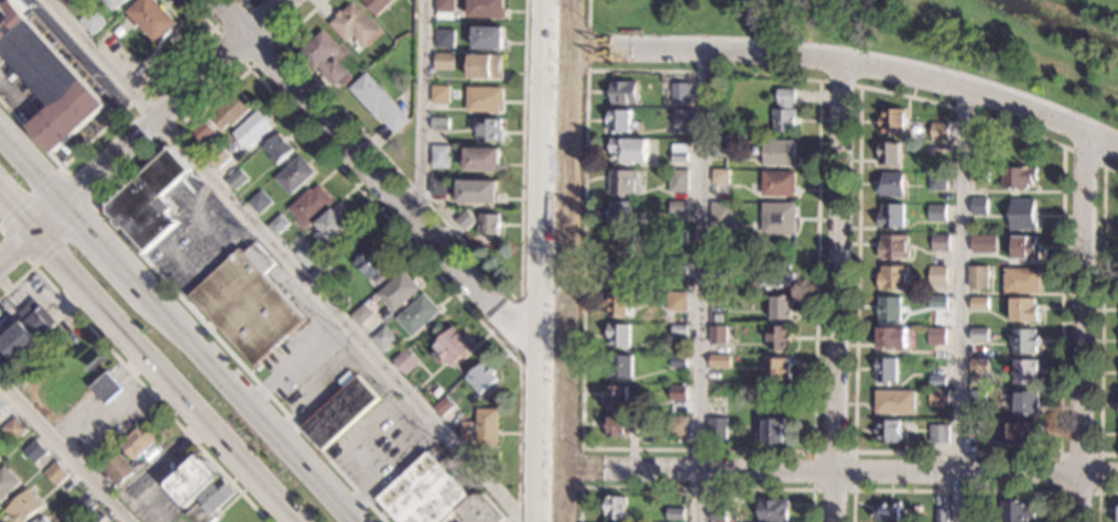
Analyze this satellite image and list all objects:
road: (241, 0)
building: (67, 2)
building: (115, 3)
building: (377, 7)
building: (443, 9)
building: (487, 10)
road: (588, 13)
building: (151, 20)
building: (91, 22)
river: (1070, 22)
building: (355, 28)
building: (118, 32)
park: (926, 34)
building: (444, 39)
road: (276, 41)
building: (489, 41)
road: (587, 48)
building: (397, 52)
road: (836, 58)
building: (323, 61)
building: (443, 62)
building: (486, 70)
building: (47, 79)
road: (840, 83)
building: (622, 90)
road: (220, 91)
building: (679, 94)
building: (439, 95)
building: (485, 102)
building: (379, 106)
road: (420, 109)
building: (785, 110)
building: (229, 111)
road: (117, 115)
building: (682, 115)
road: (159, 116)
building: (619, 119)
building: (894, 121)
building: (438, 124)
road: (541, 128)
building: (941, 129)
building: (251, 131)
building: (490, 133)
building: (200, 135)
building: (941, 145)
building: (721, 146)
building: (629, 148)
building: (274, 151)
building: (679, 152)
building: (779, 152)
building: (890, 152)
building: (439, 156)
road: (1084, 156)
building: (217, 157)
building: (482, 162)
road: (31, 167)
road: (368, 174)
building: (720, 174)
building: (979, 175)
building: (1018, 175)
building: (292, 177)
building: (235, 178)
building: (622, 180)
building: (679, 180)
building: (936, 181)
building: (778, 182)
building: (892, 183)
road: (78, 186)
building: (437, 186)
building: (476, 192)
road: (30, 194)
building: (257, 203)
building: (146, 204)
building: (979, 205)
building: (679, 206)
building: (308, 207)
building: (621, 210)
building: (936, 210)
building: (724, 213)
building: (1022, 213)
road: (14, 215)
building: (891, 215)
building: (778, 216)
building: (465, 222)
building: (275, 224)
building: (490, 227)
building: (327, 230)
road: (64, 237)
building: (680, 238)
building: (940, 241)
building: (621, 242)
building: (984, 242)
road: (14, 244)
building: (894, 246)
building: (1024, 246)
road: (105, 248)
road: (15, 249)
building: (729, 249)
building: (307, 255)
road: (567, 261)
road: (481, 262)
road: (287, 263)
building: (371, 267)
building: (677, 267)
road: (840, 267)
building: (718, 270)
building: (619, 271)
building: (321, 272)
building: (775, 273)
building: (937, 274)
building: (893, 276)
building: (978, 278)
building: (1020, 279)
road: (699, 285)
building: (398, 293)
road: (538, 298)
building: (720, 298)
building: (677, 301)
building: (936, 301)
building: (620, 302)
building: (978, 302)
road: (960, 304)
building: (780, 306)
building: (246, 307)
building: (889, 307)
building: (1023, 309)
road: (1101, 313)
building: (359, 314)
building: (417, 318)
road: (1085, 325)
building: (680, 328)
building: (28, 330)
road: (519, 334)
building: (619, 334)
building: (718, 334)
building: (978, 334)
building: (935, 335)
building: (779, 336)
building: (892, 337)
building: (381, 339)
building: (1022, 340)
building: (451, 350)
road: (551, 352)
building: (719, 359)
road: (292, 360)
building: (404, 360)
building: (679, 360)
building: (620, 365)
building: (978, 366)
building: (777, 367)
building: (887, 369)
building: (1024, 371)
building: (936, 376)
road: (163, 377)
road: (134, 378)
building: (480, 381)
road: (316, 387)
building: (106, 390)
building: (679, 392)
building: (977, 395)
building: (618, 396)
building: (938, 396)
building: (896, 401)
building: (1025, 401)
building: (1, 405)
building: (443, 405)
road: (251, 407)
building: (339, 411)
road: (855, 420)
building: (620, 425)
building: (679, 426)
building: (479, 428)
road: (535, 428)
building: (717, 428)
building: (969, 428)
building: (13, 429)
building: (773, 429)
building: (888, 431)
building: (1021, 431)
building: (940, 433)
road: (582, 444)
building: (34, 450)
road: (63, 453)
building: (127, 457)
building: (0, 458)
building: (0, 460)
road: (580, 467)
road: (826, 472)
building: (55, 474)
building: (191, 483)
building: (8, 485)
road: (695, 488)
road: (815, 490)
road: (955, 491)
building: (422, 492)
road: (1097, 493)
road: (837, 497)
road: (1098, 498)
building: (209, 504)
building: (86, 505)
building: (616, 507)
building: (23, 509)
building: (480, 509)
building: (774, 509)
building: (889, 510)
building: (1018, 511)
building: (675, 512)
building: (720, 513)
building: (942, 514)
building: (969, 514)
building: (95, 516)
road: (549, 516)
building: (45, 519)
road: (534, 519)

